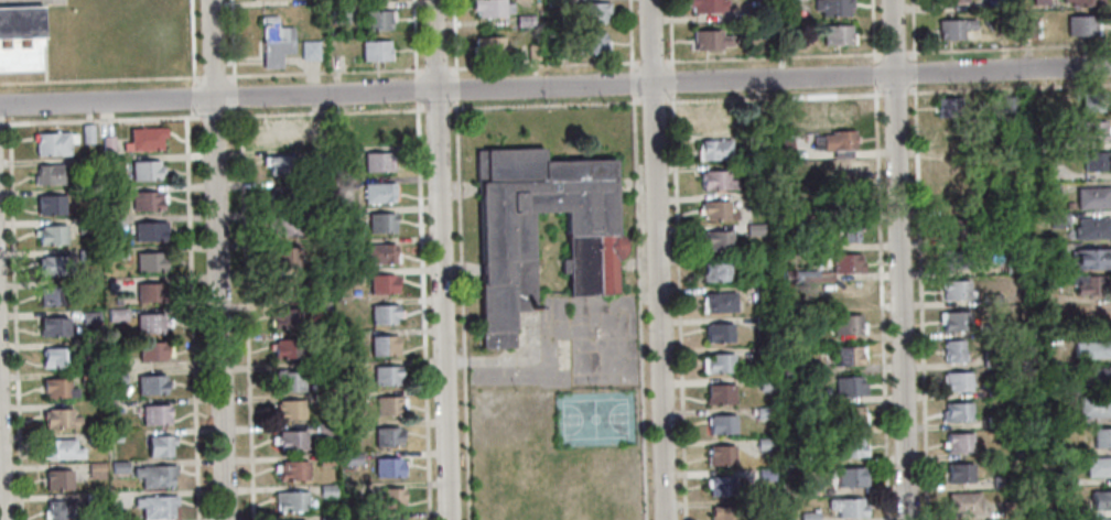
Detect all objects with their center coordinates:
building: (784, 0)
building: (557, 1)
building: (953, 1)
building: (1038, 2)
building: (1085, 2)
building: (995, 3)
building: (706, 6)
building: (832, 7)
building: (493, 8)
building: (595, 11)
building: (339, 13)
building: (756, 13)
building: (525, 15)
building: (377, 20)
building: (1080, 26)
building: (953, 29)
building: (1027, 29)
road: (873, 30)
building: (1036, 30)
road: (671, 32)
road: (630, 33)
building: (837, 35)
road: (233, 36)
road: (455, 36)
building: (21, 39)
building: (709, 40)
road: (193, 41)
building: (594, 42)
road: (914, 42)
building: (273, 43)
building: (489, 46)
road: (1008, 46)
building: (557, 47)
building: (535, 50)
road: (894, 51)
building: (309, 52)
building: (375, 52)
road: (773, 55)
road: (651, 59)
road: (543, 64)
road: (435, 67)
road: (325, 72)
road: (875, 73)
road: (213, 75)
road: (234, 77)
road: (99, 78)
road: (672, 79)
road: (633, 80)
road: (456, 87)
road: (555, 87)
road: (1010, 87)
road: (895, 91)
road: (234, 93)
road: (194, 95)
road: (774, 96)
road: (673, 97)
road: (652, 100)
building: (1092, 101)
road: (546, 102)
road: (456, 104)
building: (1008, 104)
road: (438, 107)
building: (947, 107)
road: (235, 109)
road: (324, 110)
building: (840, 111)
road: (193, 112)
street lamp: (196, 113)
road: (213, 115)
road: (103, 118)
building: (711, 119)
road: (2, 122)
building: (316, 129)
building: (380, 129)
building: (1092, 131)
building: (89, 132)
building: (279, 132)
building: (145, 140)
building: (755, 141)
building: (833, 142)
building: (1044, 142)
building: (51, 144)
building: (109, 144)
building: (783, 148)
building: (713, 150)
building: (319, 152)
building: (841, 154)
building: (344, 161)
building: (378, 161)
building: (1093, 161)
building: (109, 162)
building: (281, 164)
building: (949, 165)
building: (755, 170)
building: (144, 171)
building: (844, 171)
building: (1039, 171)
building: (51, 175)
building: (716, 181)
building: (812, 182)
building: (316, 184)
building: (1050, 188)
building: (380, 192)
building: (283, 196)
building: (956, 198)
building: (1092, 198)
building: (755, 199)
building: (147, 202)
building: (846, 204)
building: (1068, 205)
building: (50, 206)
building: (716, 210)
building: (320, 217)
building: (1058, 219)
building: (115, 220)
building: (382, 221)
building: (88, 224)
building: (346, 224)
building: (285, 225)
building: (755, 228)
road: (460, 229)
building: (953, 229)
building: (1091, 229)
building: (149, 232)
building: (848, 232)
building: (52, 236)
building: (718, 241)
building: (597, 246)
building: (345, 248)
building: (1051, 250)
building: (121, 251)
building: (380, 252)
building: (88, 253)
building: (287, 257)
road: (422, 259)
road: (441, 259)
road: (657, 259)
road: (898, 259)
building: (954, 259)
building: (1091, 259)
road: (217, 260)
building: (149, 262)
building: (759, 263)
building: (846, 264)
building: (55, 267)
building: (1013, 268)
building: (715, 271)
building: (805, 277)
building: (348, 278)
building: (386, 282)
building: (1087, 284)
building: (323, 285)
building: (284, 288)
building: (954, 290)
building: (149, 294)
building: (762, 294)
building: (848, 295)
building: (46, 297)
building: (989, 299)
road: (920, 302)
building: (718, 303)
road: (881, 303)
building: (324, 306)
road: (640, 306)
road: (679, 310)
building: (118, 312)
building: (387, 313)
road: (247, 316)
building: (91, 317)
road: (192, 317)
building: (285, 317)
road: (15, 321)
building: (957, 321)
building: (764, 323)
building: (149, 324)
building: (849, 325)
building: (52, 328)
building: (991, 328)
building: (719, 333)
building: (323, 344)
building: (386, 345)
building: (289, 347)
building: (953, 350)
building: (1091, 350)
building: (151, 353)
building: (763, 355)
building: (848, 356)
building: (56, 358)
road: (496, 358)
building: (991, 358)
building: (118, 359)
road: (464, 359)
building: (718, 364)
building: (808, 364)
building: (323, 369)
building: (388, 375)
building: (90, 376)
building: (118, 376)
building: (1098, 378)
building: (291, 380)
building: (958, 381)
building: (766, 383)
building: (151, 386)
building: (849, 387)
building: (56, 388)
building: (1069, 388)
building: (993, 391)
building: (720, 394)
building: (324, 396)
building: (810, 398)
building: (390, 405)
building: (1094, 407)
building: (290, 408)
building: (958, 411)
building: (763, 413)
building: (154, 415)
building: (850, 416)
park: (596, 418)
building: (61, 420)
building: (994, 422)
building: (721, 425)
building: (326, 426)
building: (352, 430)
building: (390, 435)
building: (97, 436)
building: (120, 436)
building: (291, 438)
building: (1102, 438)
building: (959, 442)
road: (467, 443)
building: (764, 444)
building: (160, 447)
building: (1051, 447)
building: (851, 448)
building: (63, 451)
building: (355, 456)
building: (720, 456)
building: (327, 457)
building: (812, 458)
building: (120, 465)
building: (390, 466)
building: (1098, 467)
building: (98, 468)
building: (293, 469)
building: (960, 473)
building: (766, 475)
building: (153, 477)
building: (852, 477)
building: (1051, 479)
building: (57, 481)
building: (1001, 481)
building: (722, 486)
building: (330, 489)
building: (810, 489)
building: (392, 497)
building: (97, 498)
building: (292, 500)
building: (1101, 500)
road: (0, 503)
building: (963, 503)
building: (155, 507)
building: (848, 508)
building: (62, 510)
building: (727, 513)
building: (330, 517)
building: (809, 517)
building: (392, 519)
building: (1105, 519)

